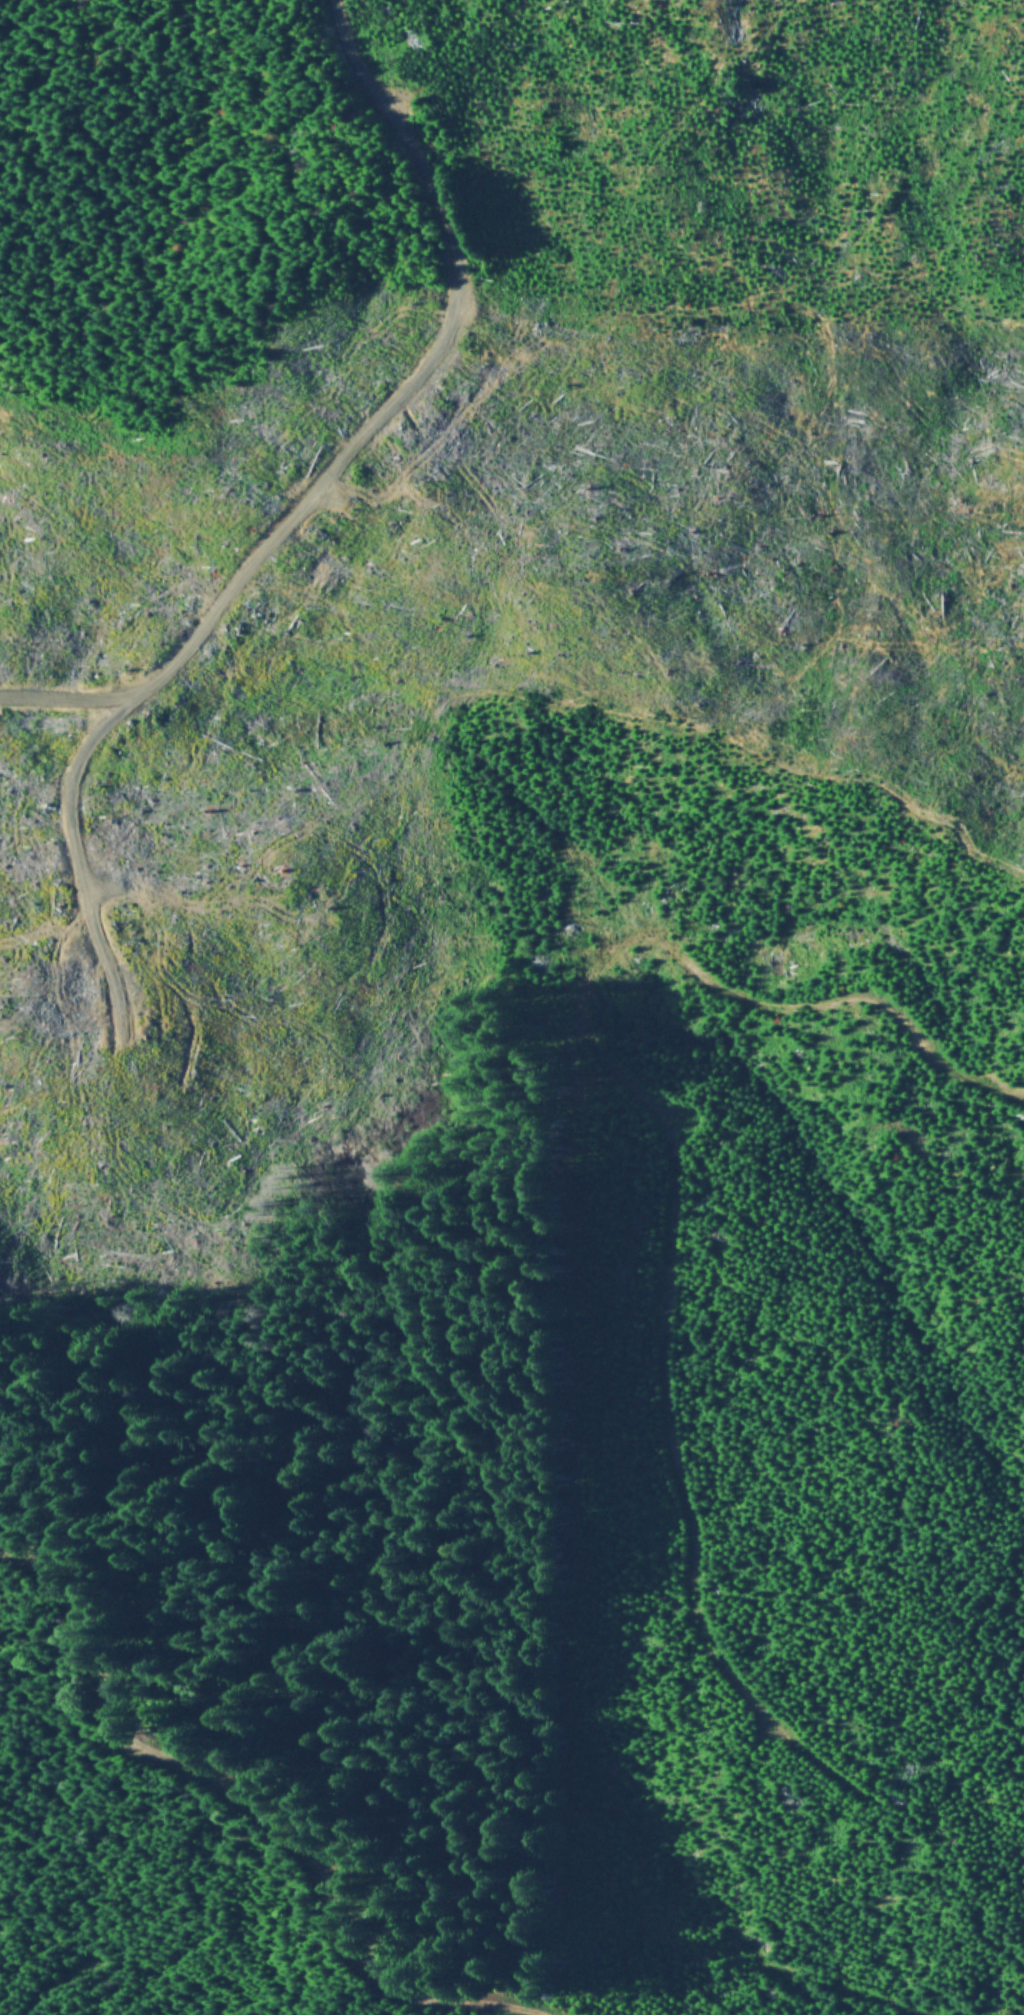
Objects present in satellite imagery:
road: (375, 97)
road: (678, 1164)
road: (255, 1805)

